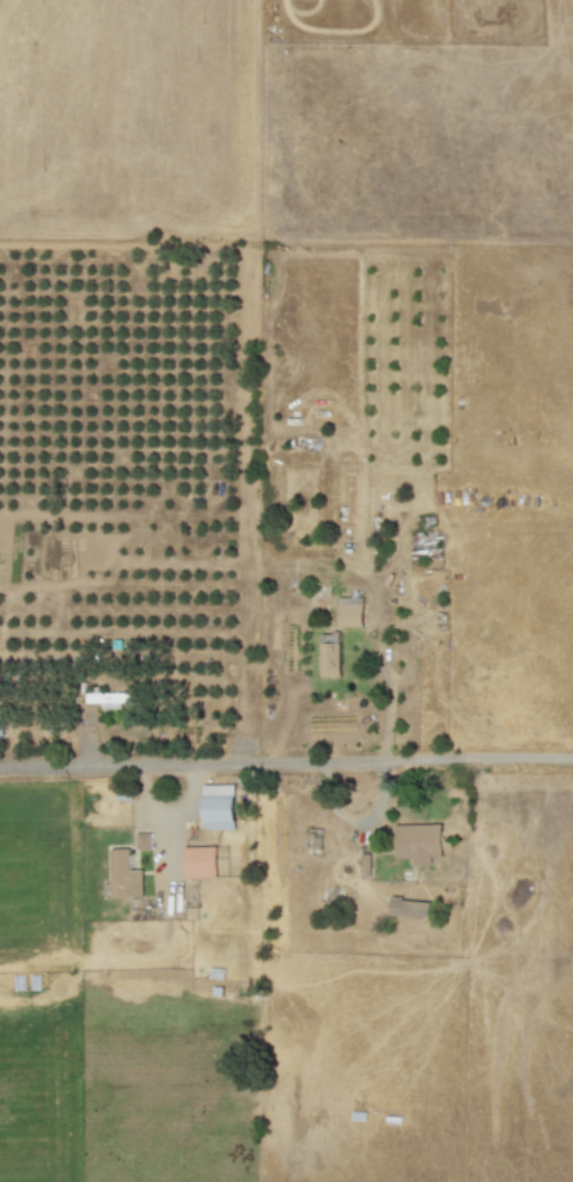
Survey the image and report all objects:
building: (350, 611)
building: (330, 654)
road: (385, 682)
building: (1, 729)
road: (286, 763)
road: (191, 797)
building: (219, 806)
road: (169, 820)
building: (145, 840)
building: (420, 842)
building: (201, 861)
building: (124, 875)
building: (409, 907)

